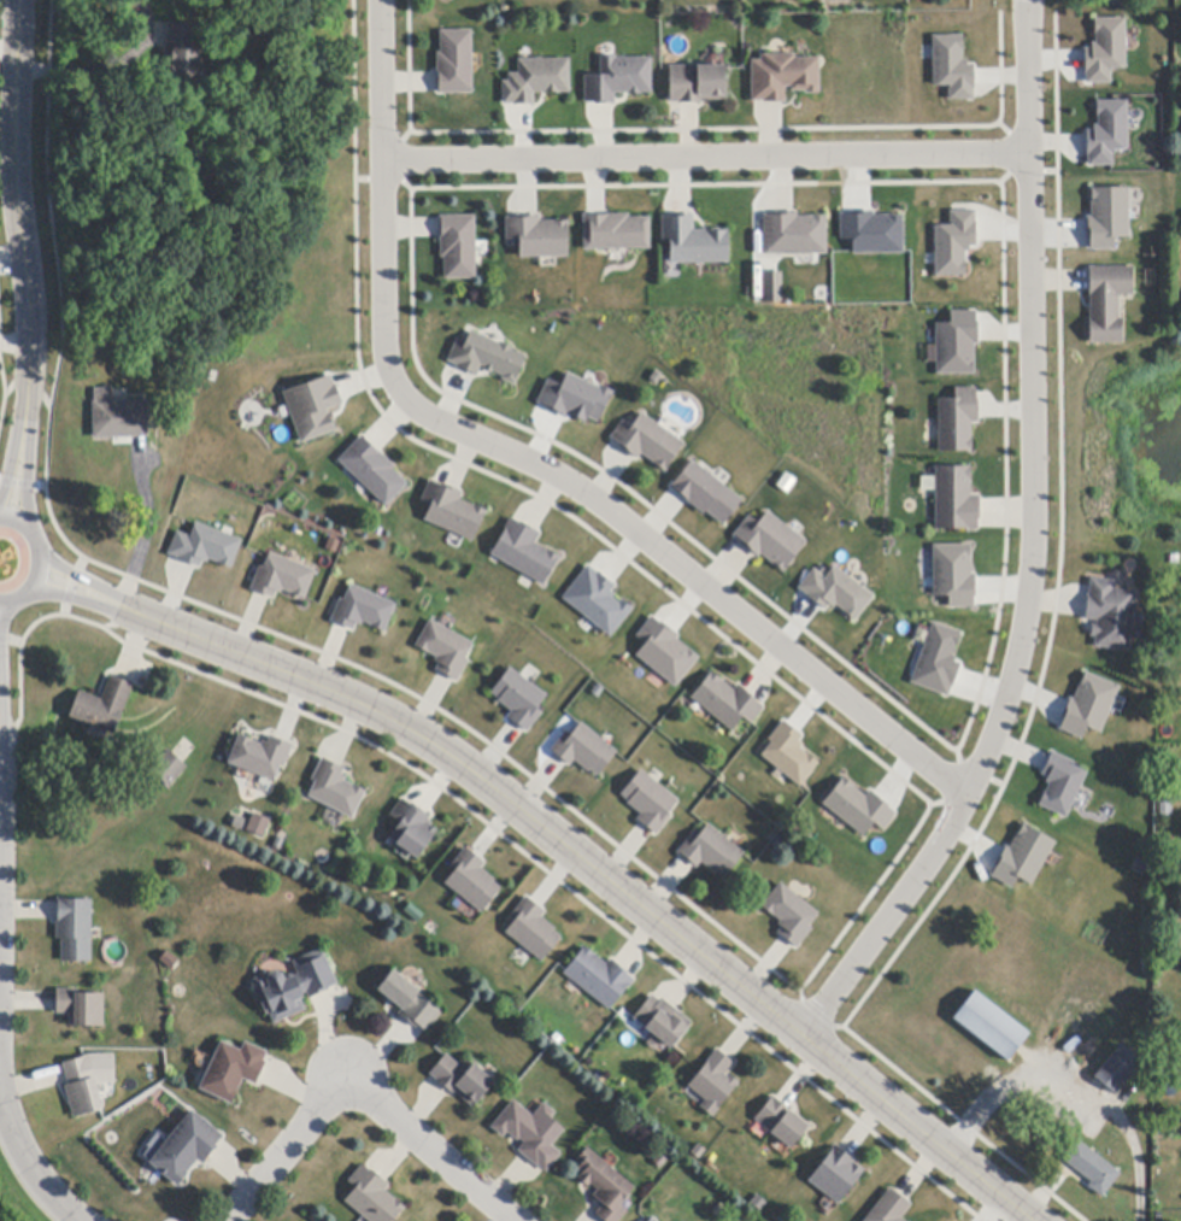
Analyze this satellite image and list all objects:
building: (1103, 48)
building: (182, 53)
building: (456, 63)
building: (952, 67)
building: (782, 77)
building: (618, 80)
building: (536, 81)
building: (697, 84)
building: (1106, 134)
road: (705, 159)
road: (13, 198)
building: (1104, 213)
building: (870, 230)
building: (616, 233)
building: (791, 233)
building: (539, 236)
building: (691, 241)
building: (954, 242)
building: (458, 247)
building: (770, 286)
building: (1107, 303)
building: (954, 342)
building: (488, 358)
park: (785, 386)
building: (572, 397)
building: (311, 406)
building: (119, 417)
building: (957, 421)
building: (648, 442)
road: (17, 451)
park: (1116, 453)
road: (29, 460)
road: (533, 463)
building: (372, 471)
building: (704, 492)
building: (953, 498)
building: (452, 511)
building: (768, 539)
building: (204, 546)
road: (1033, 550)
building: (524, 553)
road: (139, 557)
road: (43, 558)
building: (952, 573)
building: (280, 575)
road: (90, 582)
building: (834, 589)
building: (594, 598)
road: (82, 599)
road: (122, 606)
building: (360, 607)
building: (1110, 615)
building: (443, 647)
building: (663, 650)
building: (935, 657)
road: (0, 674)
building: (519, 699)
building: (727, 703)
building: (1086, 703)
building: (102, 706)
building: (583, 750)
building: (786, 752)
building: (259, 755)
building: (168, 768)
building: (1059, 781)
building: (333, 787)
building: (647, 800)
building: (856, 805)
building: (1165, 806)
building: (257, 823)
building: (412, 828)
building: (711, 852)
building: (1022, 855)
road: (603, 879)
building: (472, 881)
building: (789, 914)
building: (75, 931)
building: (533, 931)
building: (169, 961)
building: (599, 978)
building: (294, 987)
building: (410, 1002)
building: (81, 1008)
building: (663, 1021)
building: (991, 1027)
building: (1117, 1070)
building: (233, 1072)
building: (463, 1080)
building: (713, 1084)
building: (81, 1088)
road: (358, 1090)
building: (781, 1122)
building: (531, 1133)
building: (187, 1149)
road: (27, 1156)
building: (1091, 1168)
building: (835, 1175)
building: (605, 1186)
building: (372, 1197)
crop: (20, 1204)
building: (889, 1208)
road: (74, 1217)
building: (652, 1220)

